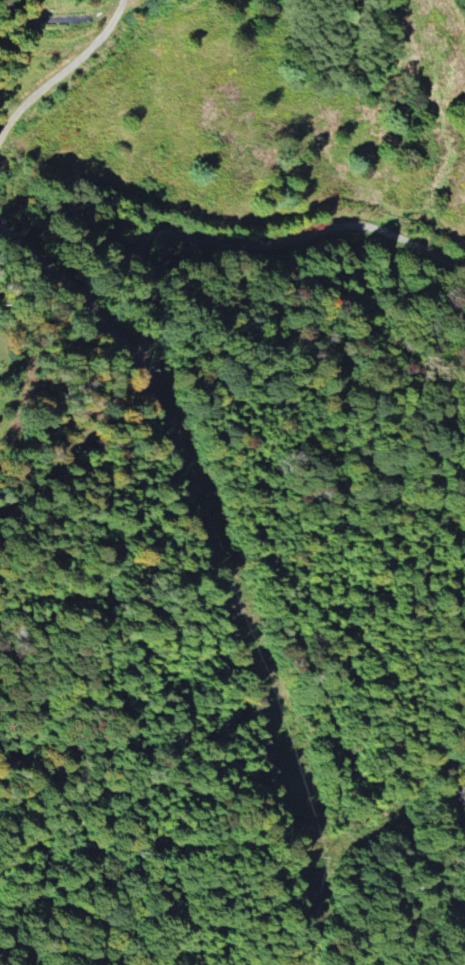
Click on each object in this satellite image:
road: (63, 70)
road: (154, 233)
park: (4, 405)
road: (79, 434)

